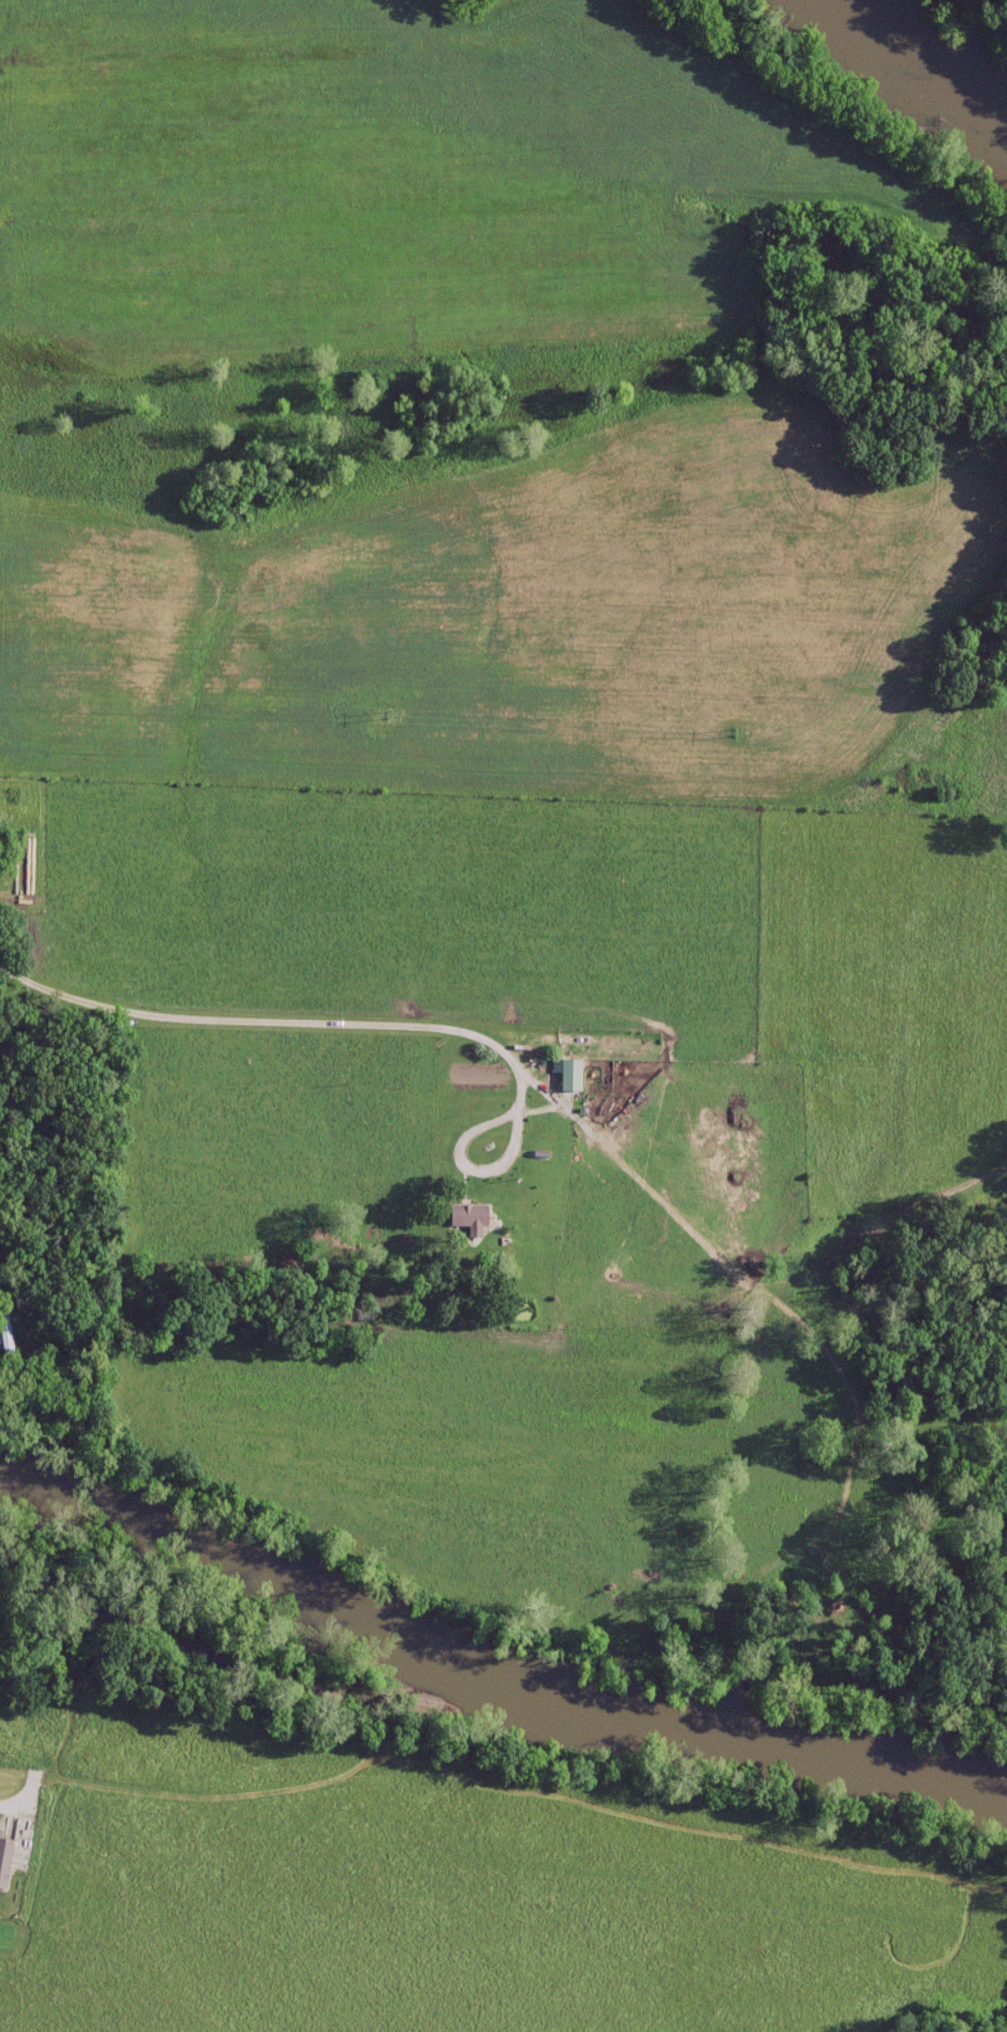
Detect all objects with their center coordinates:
power tower: (381, 718)
power tower: (728, 732)
road: (279, 1017)
building: (568, 1075)
road: (468, 1161)
building: (464, 1215)
building: (3, 1333)
building: (1, 1852)

